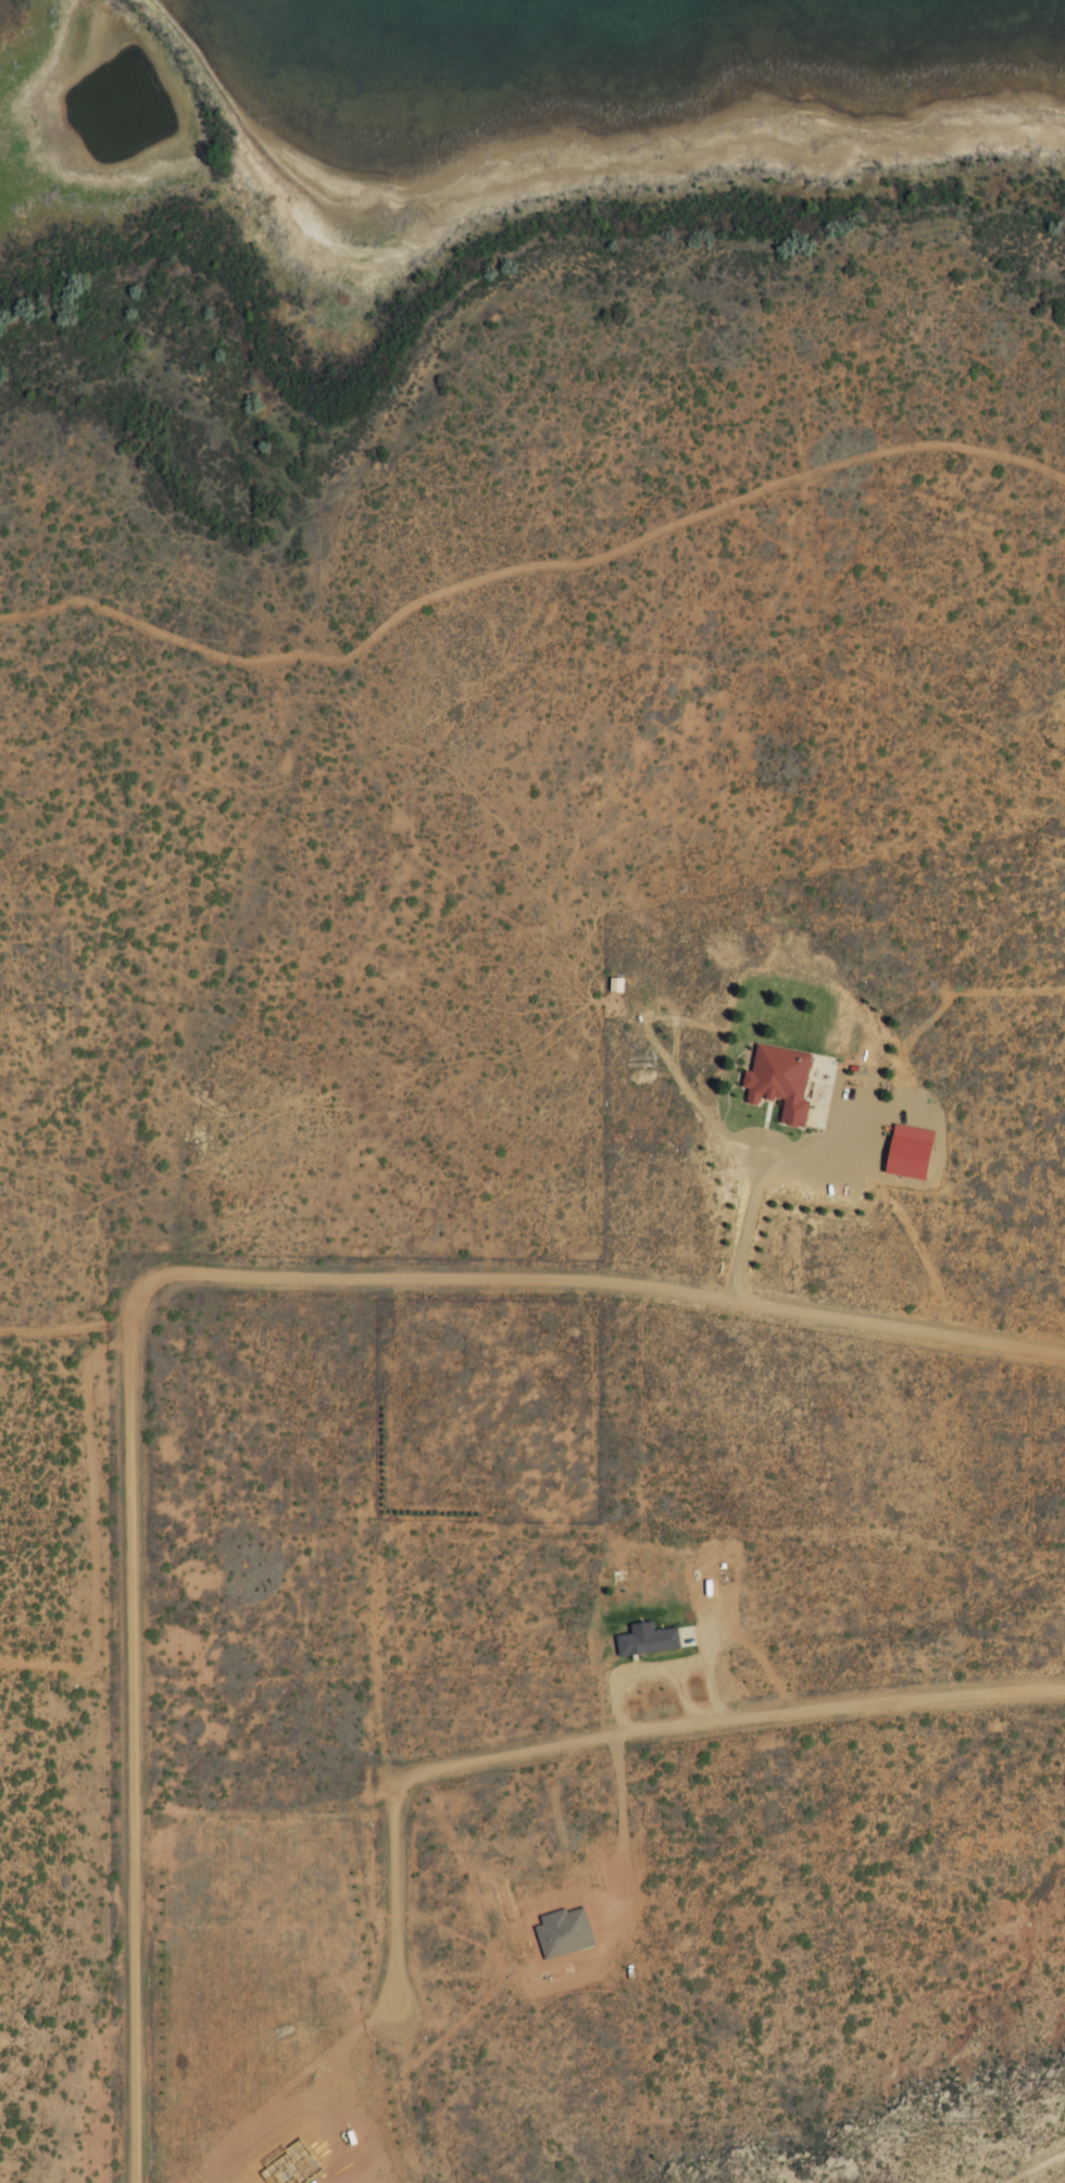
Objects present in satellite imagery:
road: (29, 526)
road: (605, 1288)
road: (133, 1739)
road: (611, 1741)

